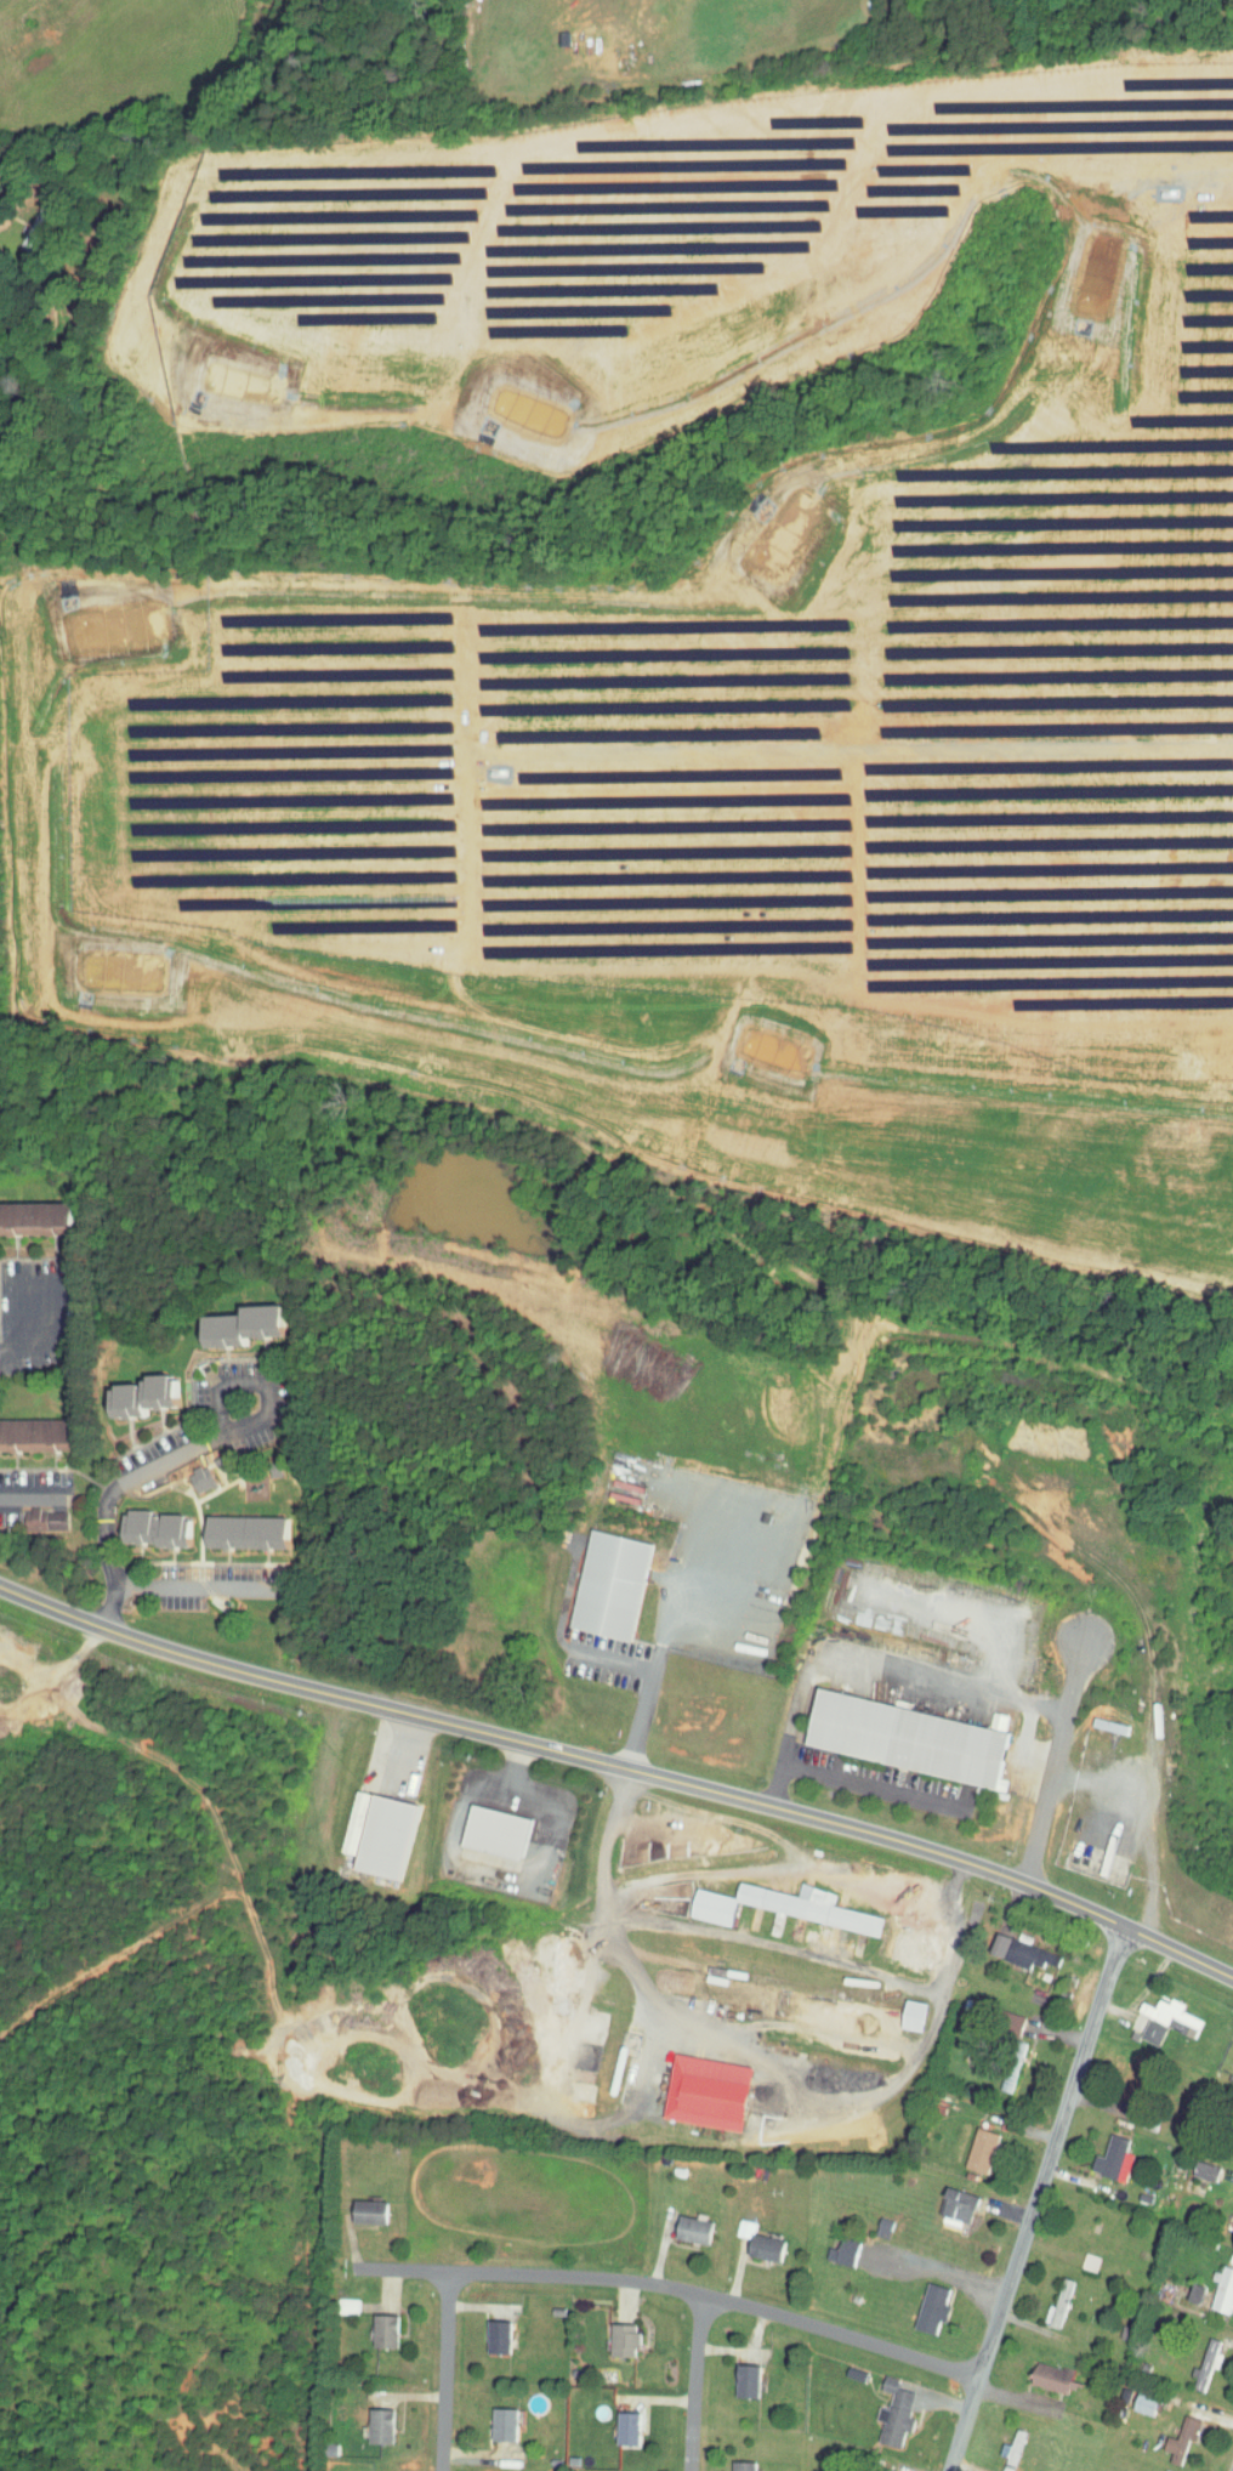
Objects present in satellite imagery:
road: (1, 223)
road: (973, 424)
building: (23, 1210)
building: (226, 1317)
road: (36, 1330)
building: (23, 1426)
road: (192, 1454)
building: (183, 1472)
road: (33, 1493)
building: (28, 1512)
building: (137, 1521)
building: (228, 1524)
building: (591, 1578)
road: (194, 1586)
road: (676, 1598)
road: (612, 1657)
road: (864, 1661)
building: (890, 1731)
road: (403, 1755)
road: (1056, 1760)
road: (516, 1765)
road: (620, 1770)
building: (477, 1824)
road: (1129, 1824)
building: (363, 1828)
building: (1097, 1851)
road: (492, 1873)
building: (766, 1899)
road: (777, 1945)
building: (1006, 1945)
building: (894, 2007)
building: (1150, 2012)
building: (994, 2016)
road: (768, 2066)
building: (688, 2085)
building: (964, 2143)
building: (1097, 2152)
building: (1187, 2164)
road: (1035, 2197)
building: (939, 2198)
building: (351, 2204)
building: (675, 2222)
building: (743, 2236)
building: (825, 2244)
building: (1210, 2280)
building: (1041, 2297)
building: (334, 2299)
road: (653, 2299)
building: (915, 2300)
building: (367, 2324)
building: (479, 2330)
building: (607, 2333)
building: (1189, 2359)
building: (1036, 2371)
building: (728, 2374)
road: (439, 2379)
road: (692, 2388)
building: (1126, 2397)
building: (879, 2407)
building: (485, 2418)
building: (362, 2419)
building: (608, 2421)
building: (1165, 2431)
building: (996, 2442)

